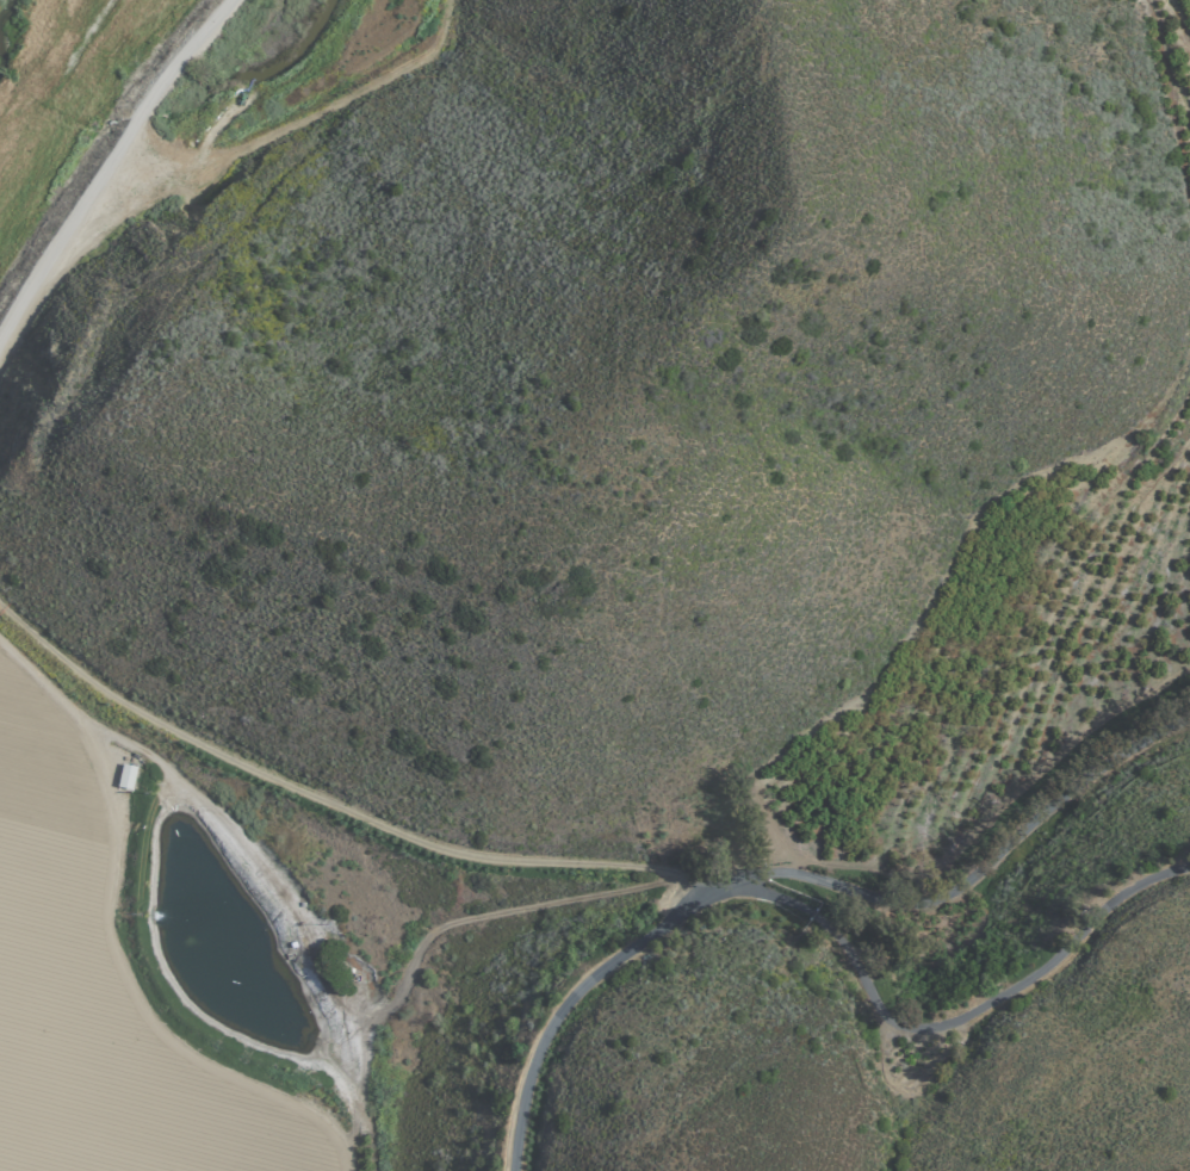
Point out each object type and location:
crop: (1186, 70)
road: (104, 148)
crop: (971, 686)
building: (125, 776)
road: (106, 787)
road: (600, 872)
road: (315, 962)
crop: (153, 989)
road: (985, 998)
road: (575, 999)

